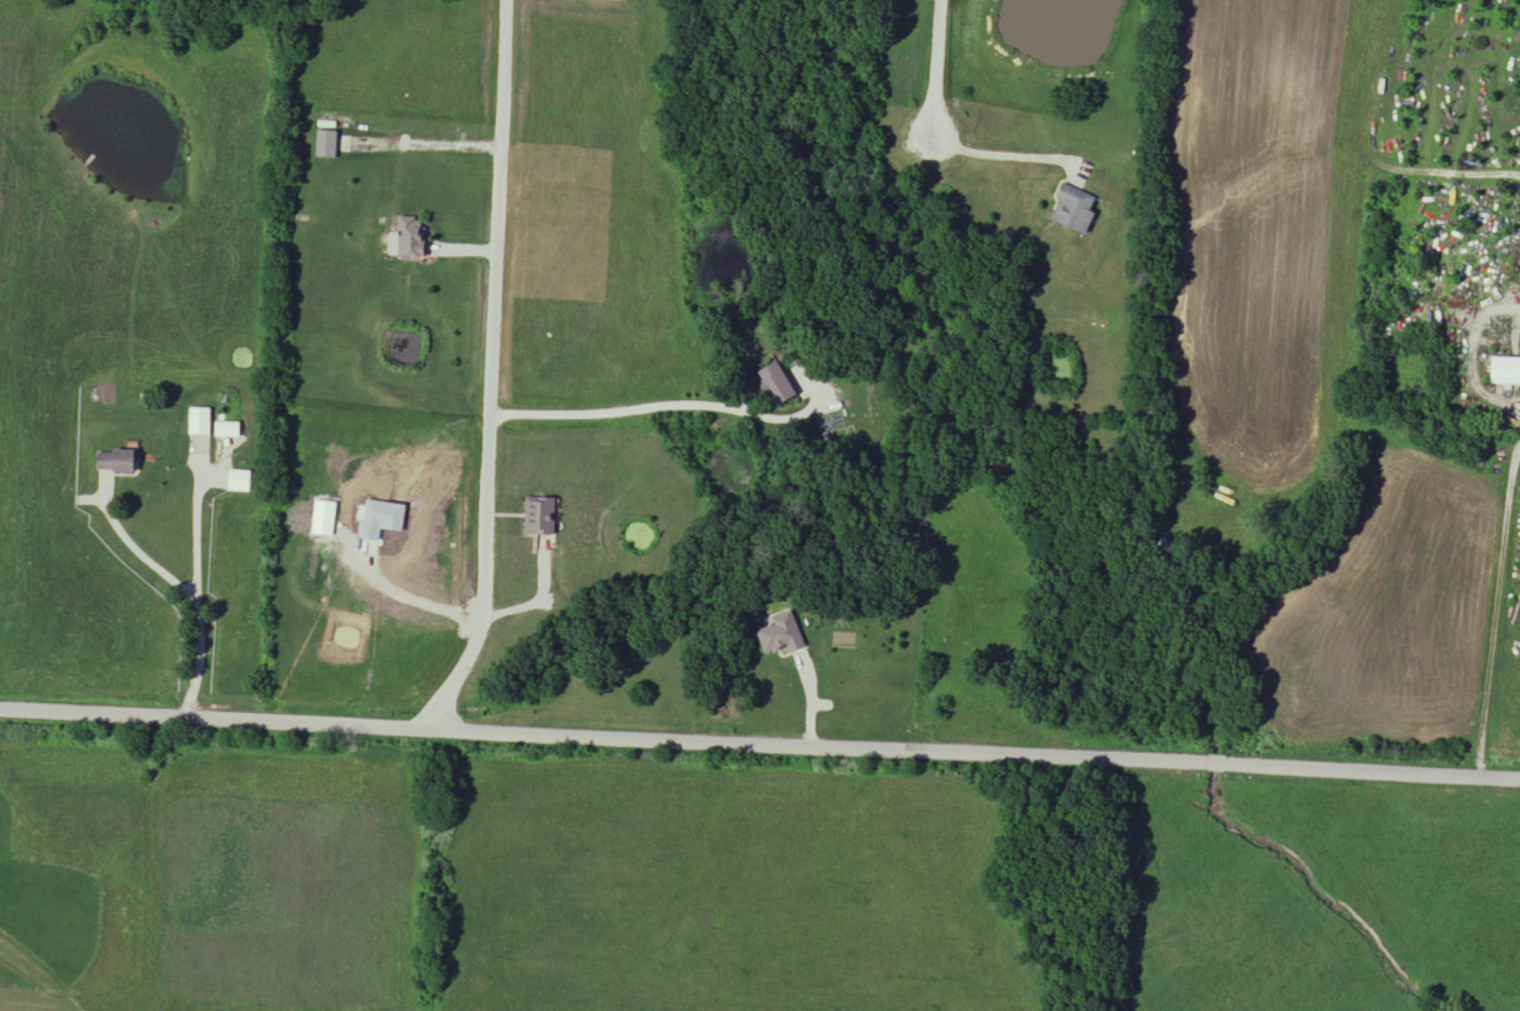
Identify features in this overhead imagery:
building: (622, 0)
road: (936, 71)
road: (1010, 158)
building: (1075, 209)
crop: (1250, 226)
building: (411, 237)
road: (1474, 358)
building: (1507, 372)
road: (492, 373)
road: (642, 407)
building: (200, 423)
building: (227, 431)
building: (119, 462)
building: (240, 482)
building: (541, 517)
building: (1170, 549)
road: (181, 590)
road: (535, 595)
road: (1494, 614)
building: (782, 636)
road: (1252, 682)
road: (759, 745)

